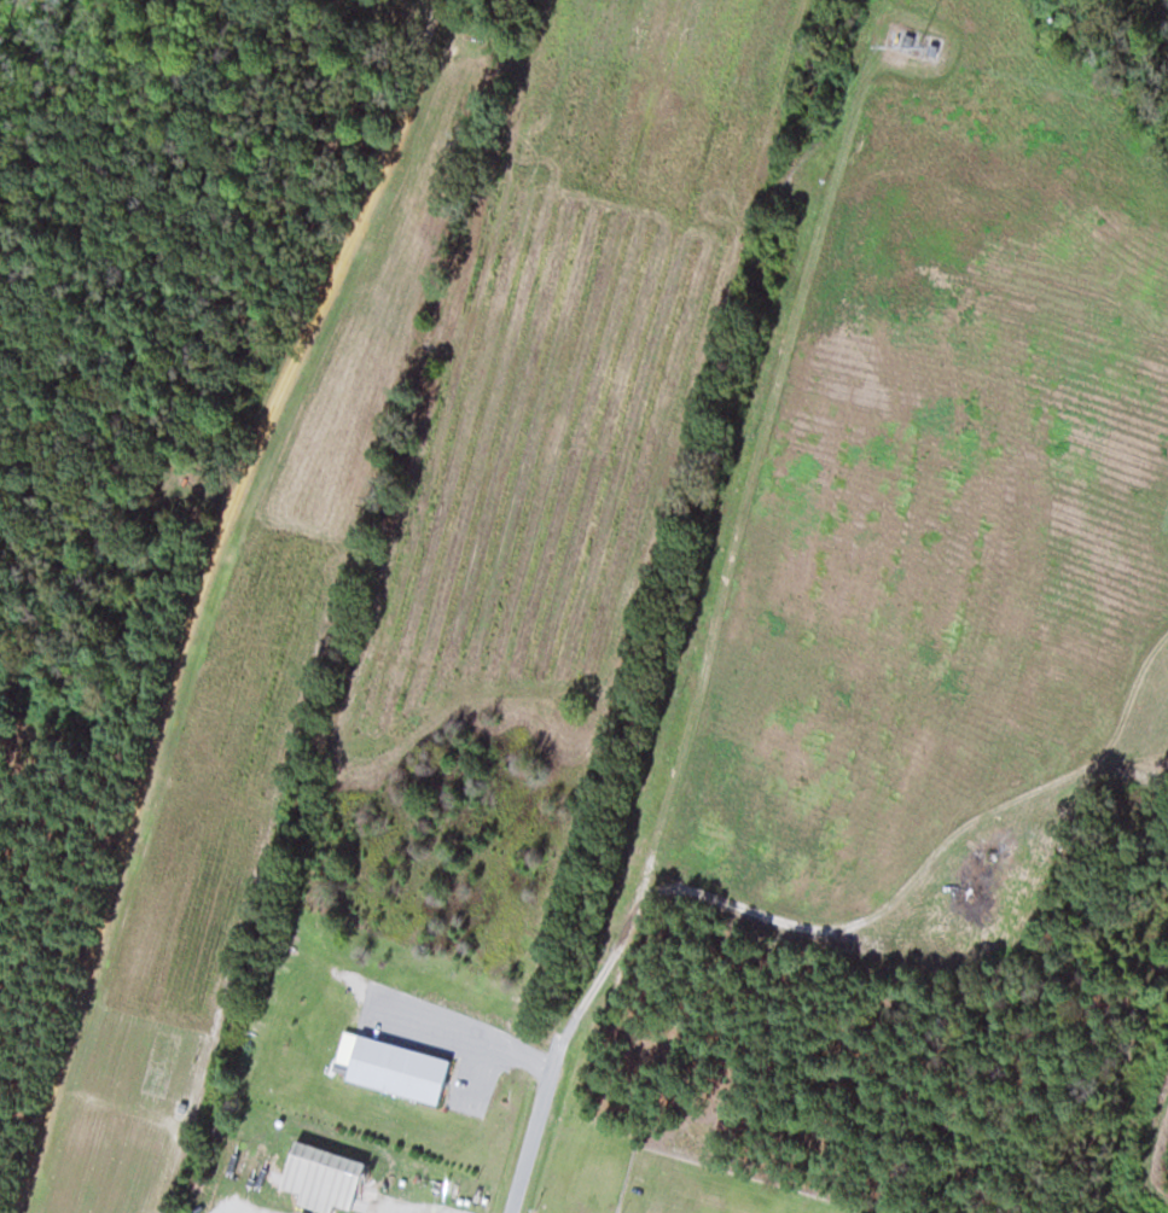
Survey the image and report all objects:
road: (185, 548)
building: (397, 1068)
road: (534, 1133)
building: (321, 1176)

